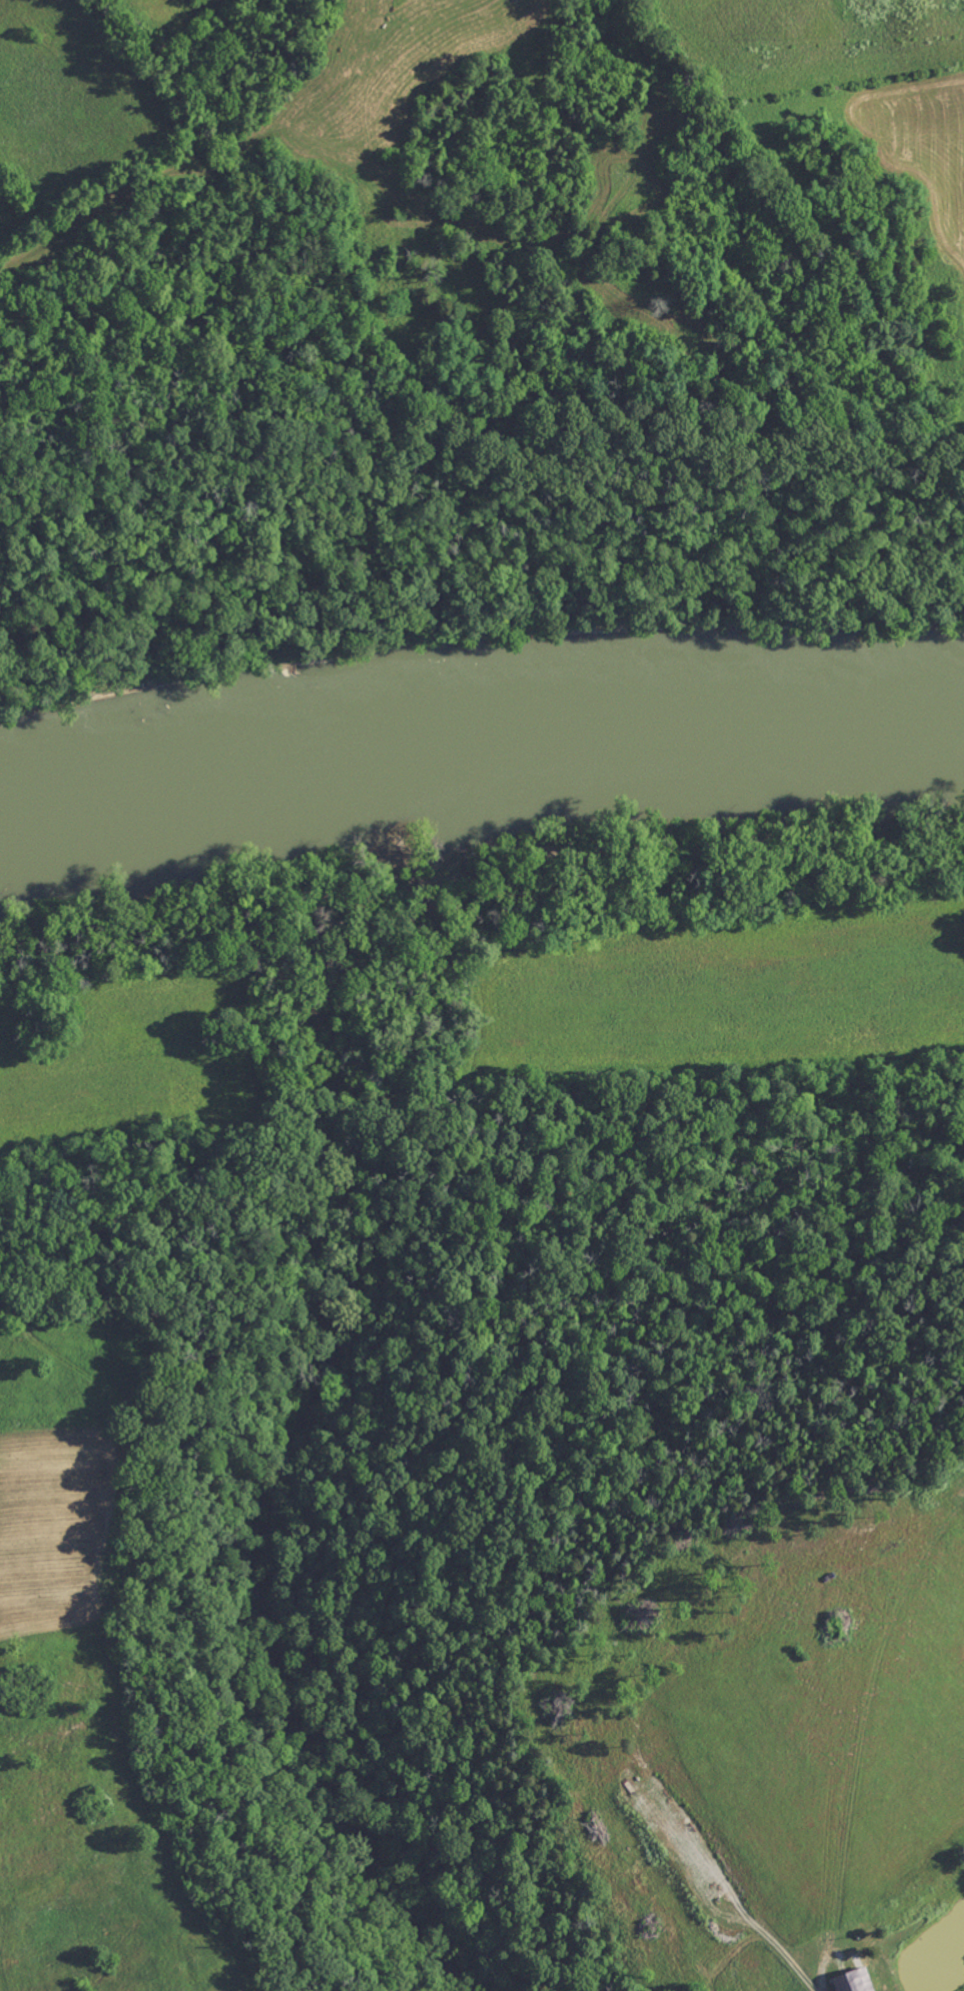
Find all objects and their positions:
river: (478, 734)
road: (780, 1949)
building: (855, 1981)

